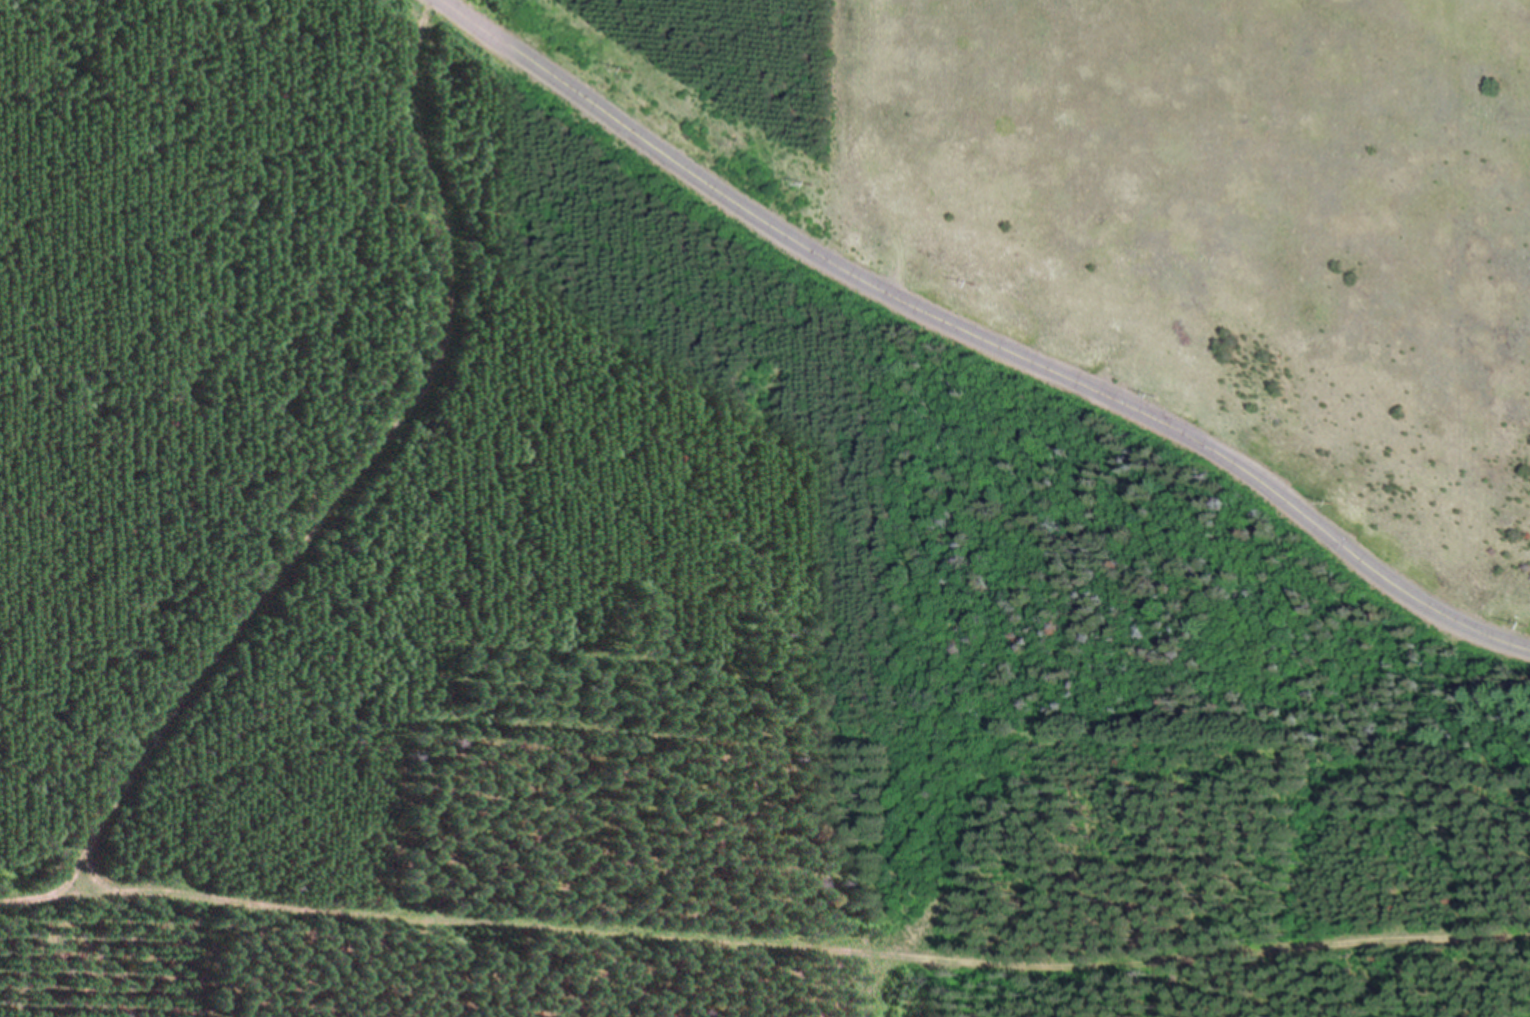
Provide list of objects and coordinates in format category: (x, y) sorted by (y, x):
road: (993, 319)
road: (367, 467)

